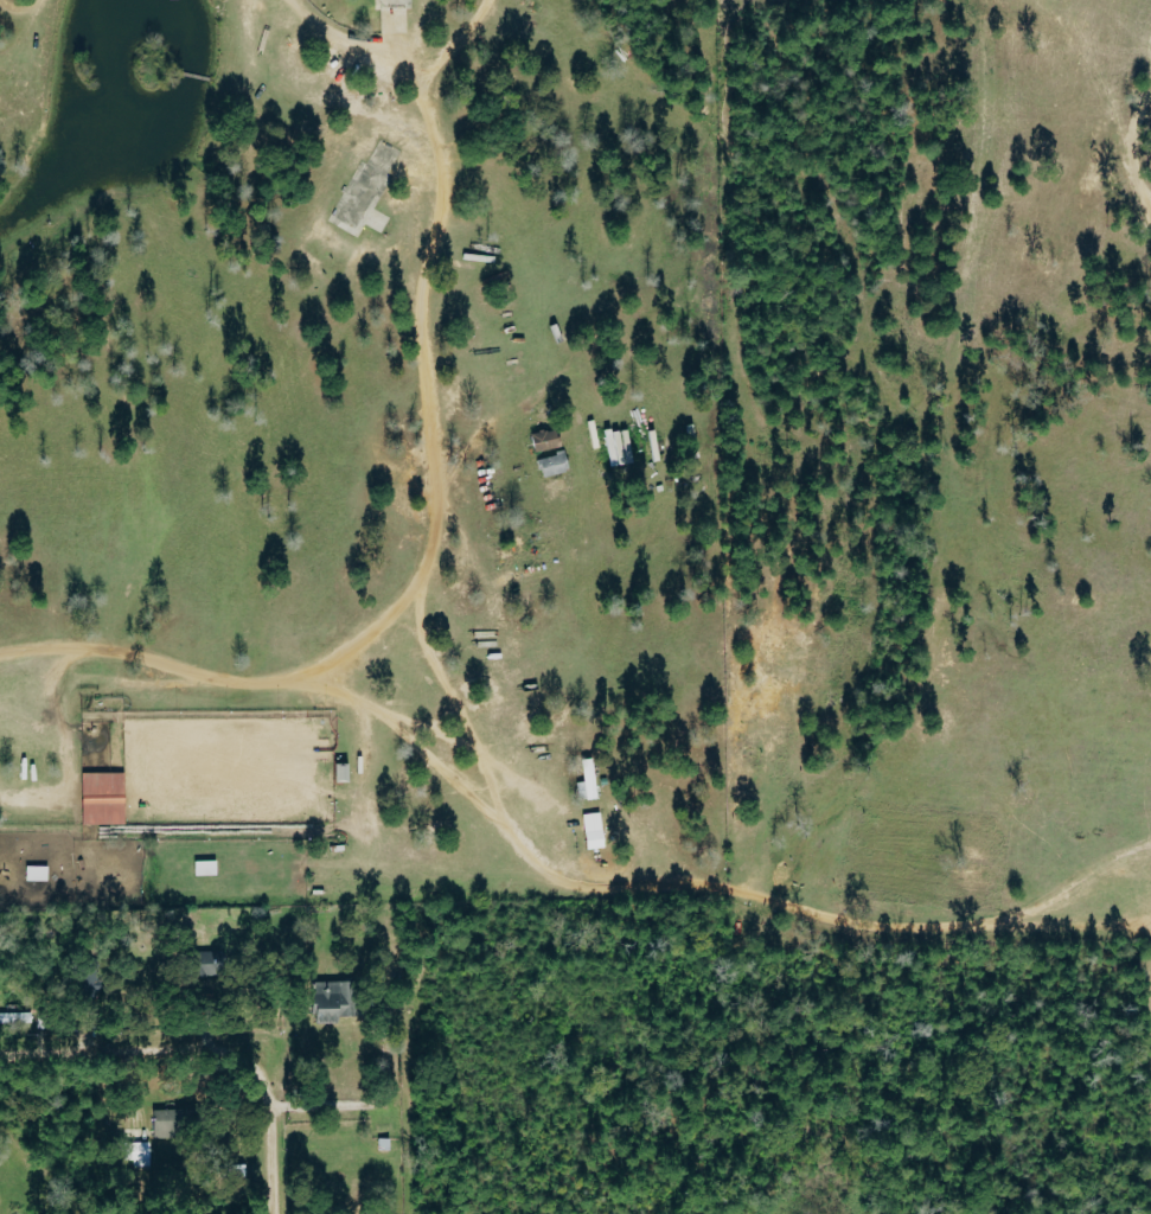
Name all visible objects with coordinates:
road: (14, 4)
road: (334, 27)
building: (541, 441)
building: (552, 475)
road: (427, 499)
road: (448, 714)
building: (334, 771)
building: (583, 780)
building: (98, 798)
building: (589, 830)
building: (202, 867)
building: (33, 873)
building: (194, 964)
building: (327, 1001)
road: (203, 1049)
road: (371, 1105)
building: (164, 1123)
building: (135, 1152)

